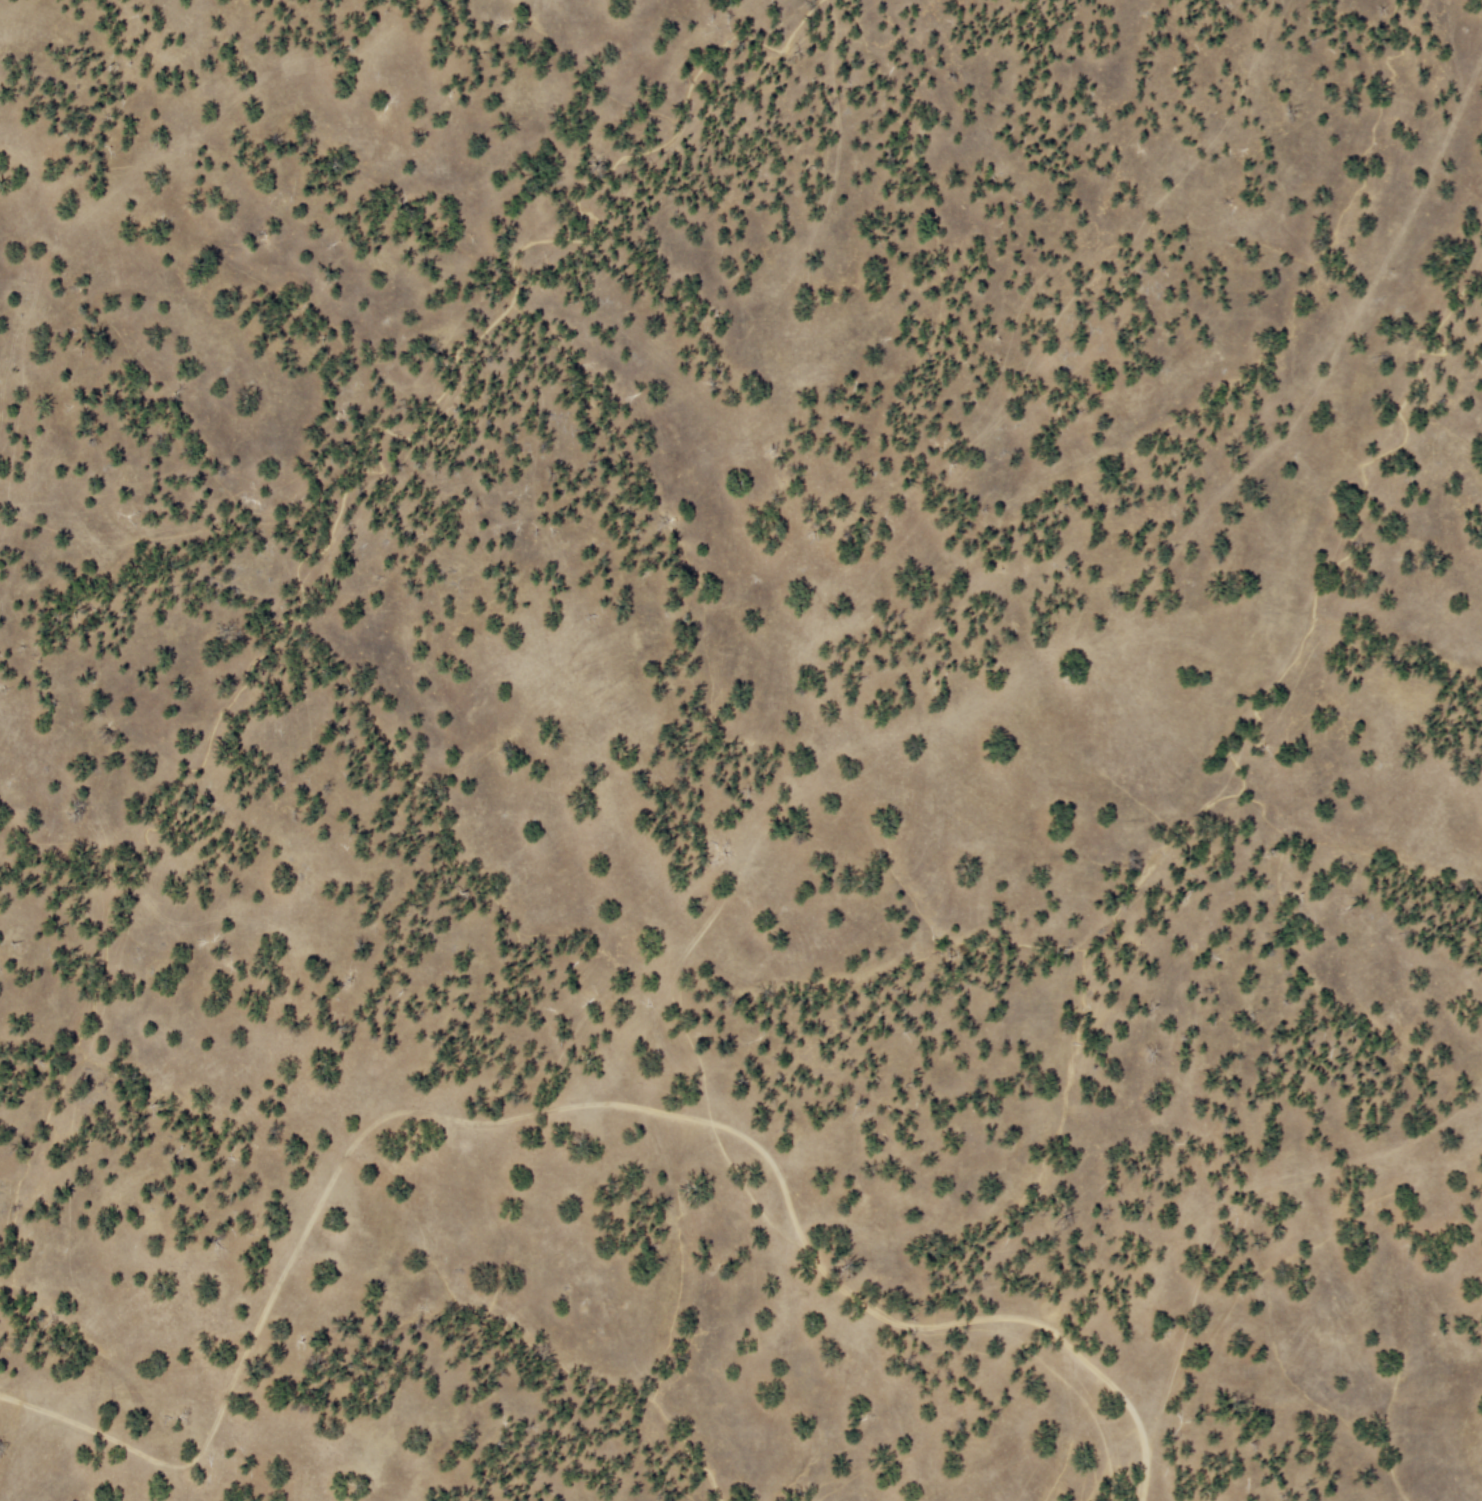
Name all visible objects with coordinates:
road: (569, 1107)

